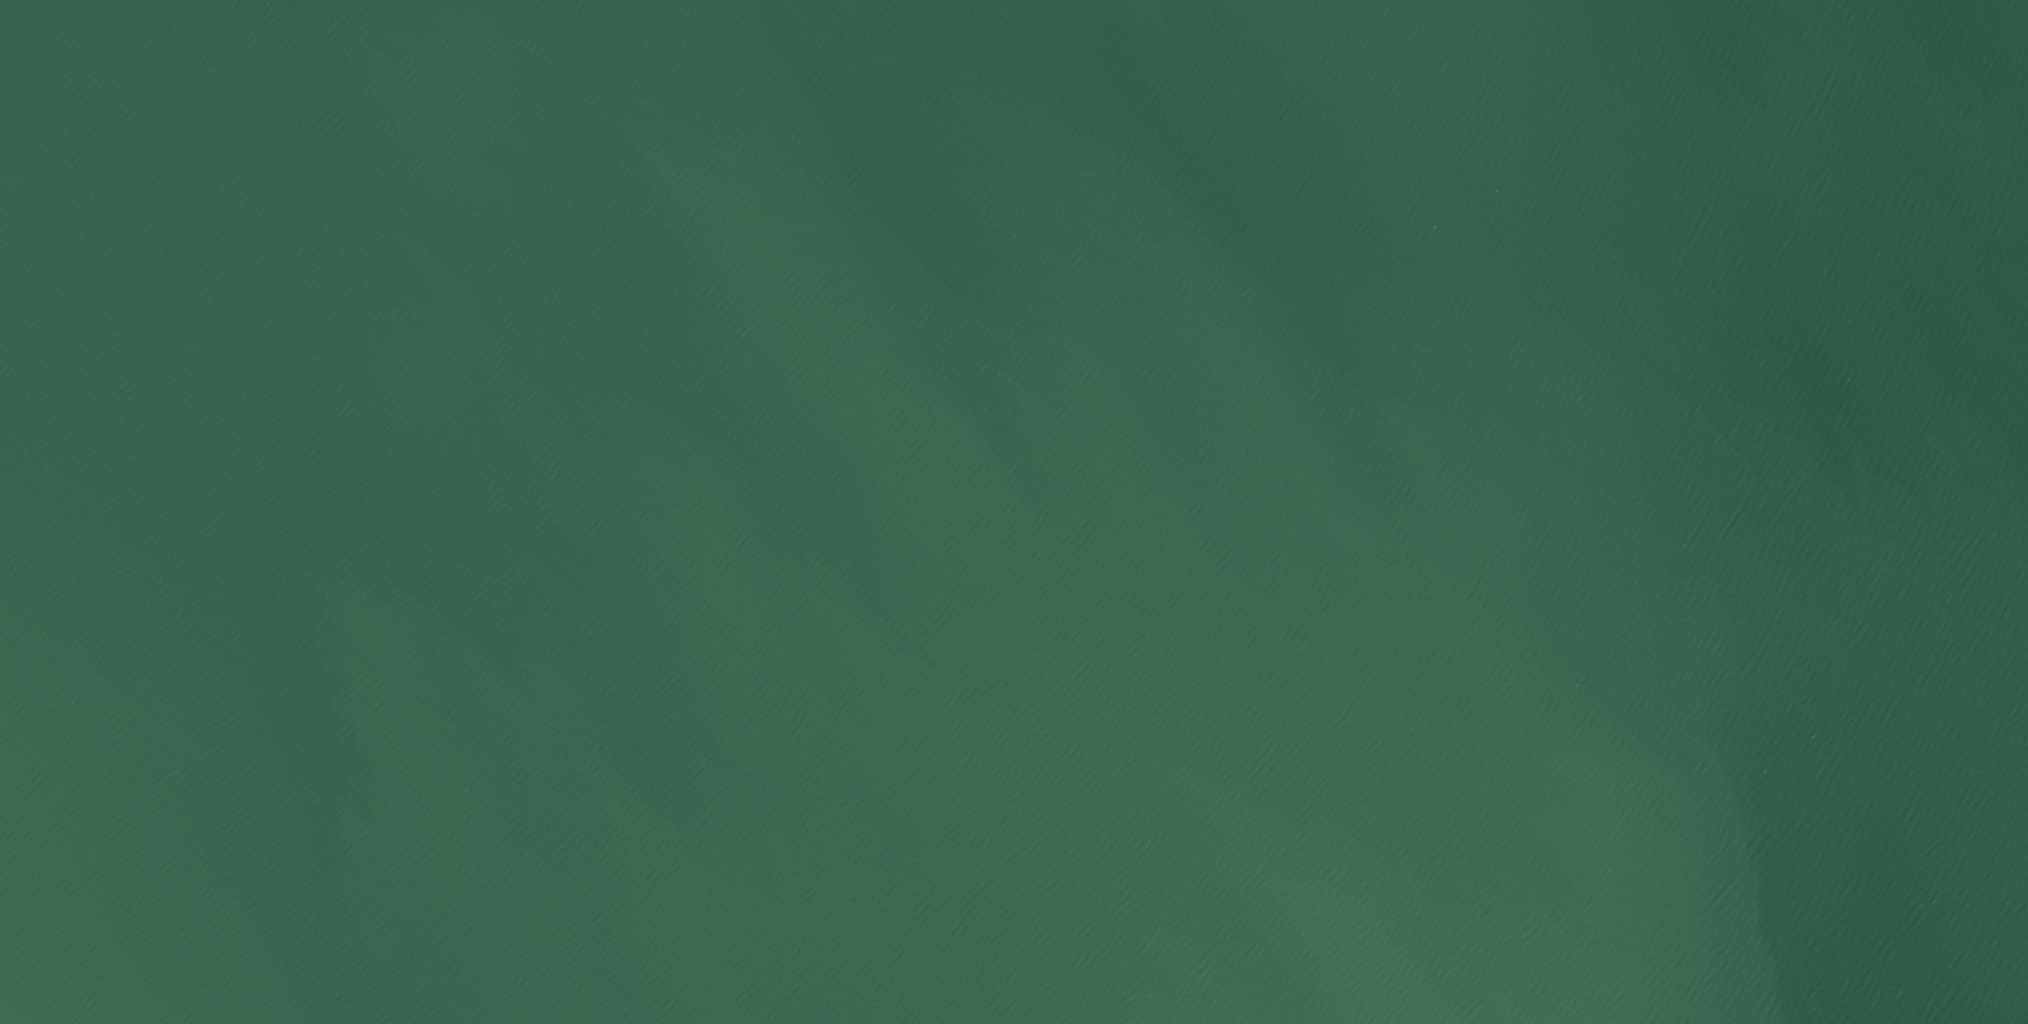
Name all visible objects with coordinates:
river: (1146, 327)

